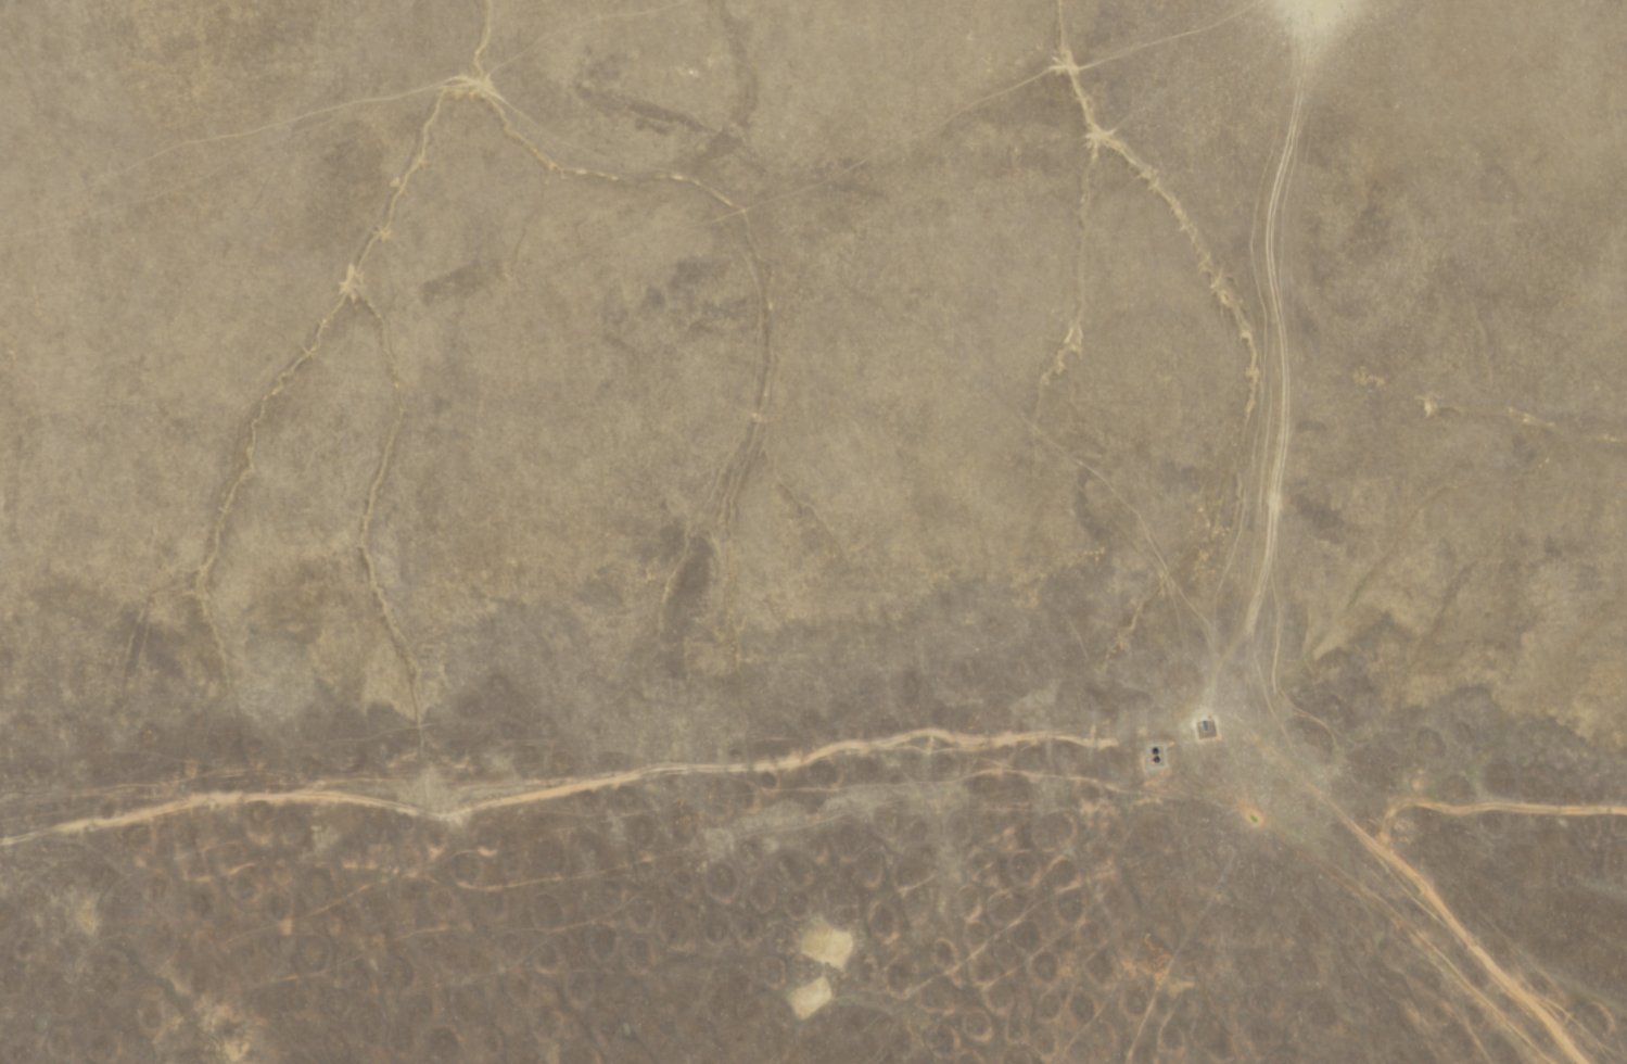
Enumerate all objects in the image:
road: (821, 757)
road: (1445, 905)

